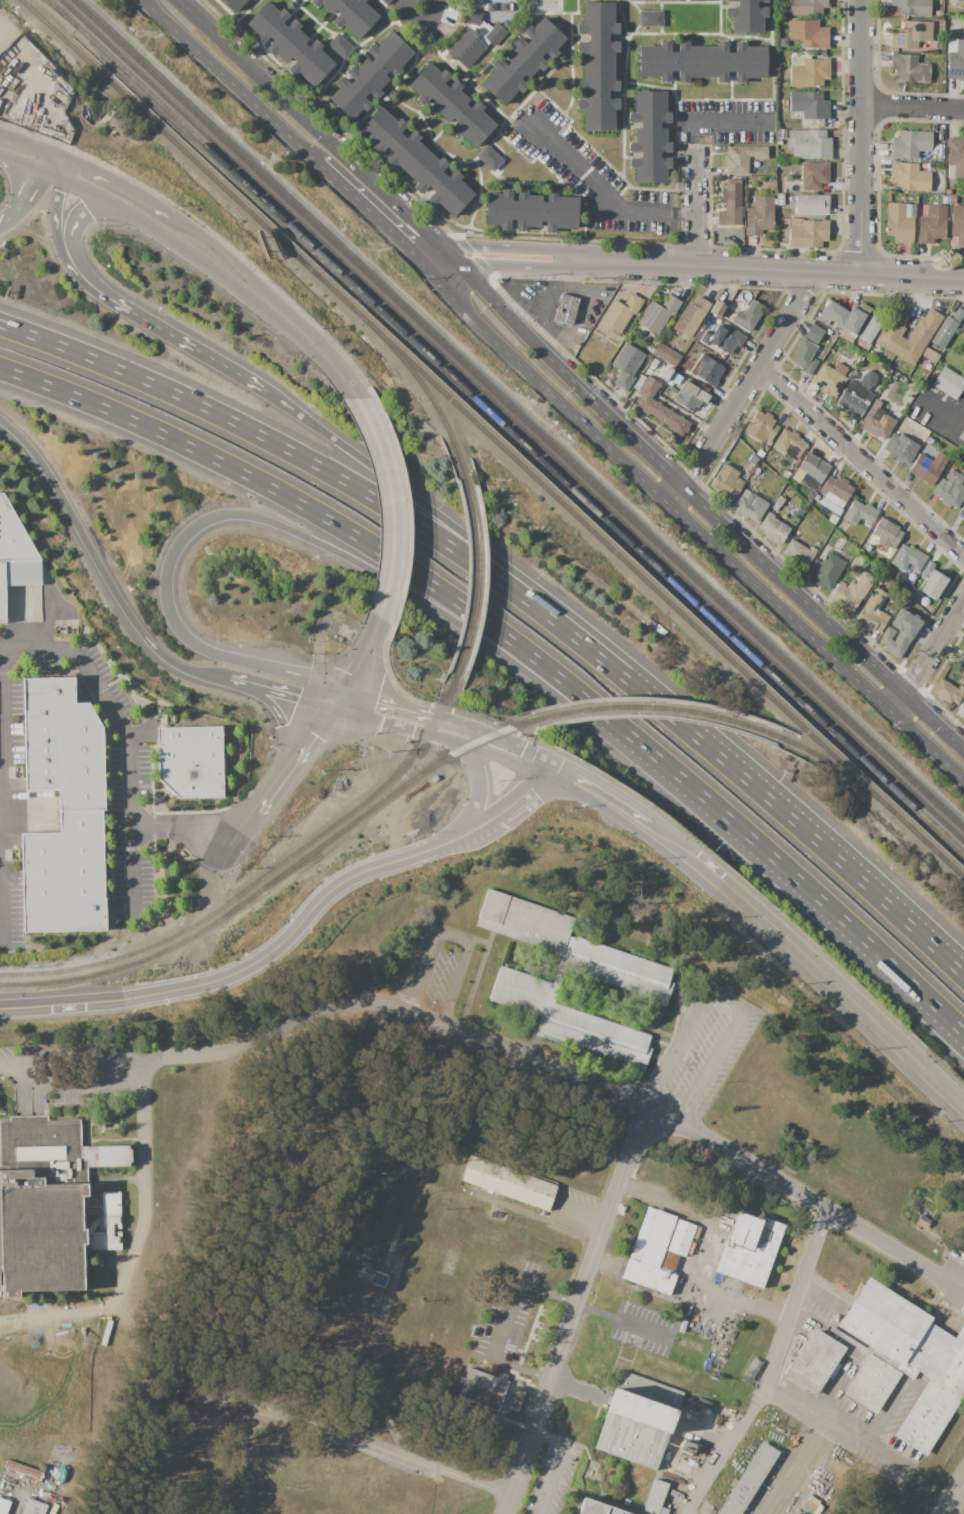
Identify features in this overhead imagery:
building: (252, 0)
building: (960, 0)
building: (234, 4)
railway: (54, 5)
railway: (56, 5)
building: (505, 6)
building: (489, 7)
building: (807, 7)
building: (912, 7)
building: (349, 14)
building: (746, 15)
building: (650, 18)
road: (420, 19)
building: (506, 23)
building: (808, 34)
building: (911, 34)
building: (473, 38)
building: (783, 42)
building: (290, 43)
building: (340, 46)
building: (803, 54)
building: (794, 55)
building: (784, 58)
building: (954, 59)
building: (523, 61)
building: (703, 61)
building: (598, 66)
building: (910, 69)
building: (810, 73)
building: (371, 76)
road: (232, 82)
building: (451, 104)
building: (784, 104)
building: (809, 104)
road: (916, 110)
road: (308, 123)
road: (724, 125)
building: (781, 134)
building: (649, 137)
road: (867, 137)
road: (31, 141)
building: (779, 142)
building: (809, 144)
building: (910, 144)
building: (934, 151)
building: (490, 158)
building: (741, 158)
building: (955, 158)
railway: (192, 160)
road: (20, 162)
building: (416, 162)
road: (39, 171)
road: (98, 174)
building: (814, 176)
building: (909, 177)
building: (779, 188)
building: (948, 191)
road: (598, 195)
building: (780, 199)
building: (953, 200)
building: (731, 202)
building: (774, 202)
building: (812, 204)
road: (696, 205)
road: (156, 208)
road: (13, 211)
building: (531, 211)
road: (369, 213)
building: (760, 215)
building: (900, 222)
building: (958, 223)
building: (931, 224)
road: (150, 231)
building: (807, 233)
road: (57, 248)
road: (503, 249)
road: (429, 254)
road: (223, 255)
road: (74, 256)
road: (447, 256)
road: (438, 264)
road: (512, 267)
road: (765, 269)
road: (549, 292)
building: (717, 308)
building: (566, 309)
road: (581, 312)
building: (620, 313)
building: (658, 314)
building: (748, 315)
building: (846, 316)
building: (691, 317)
building: (823, 320)
building: (874, 323)
building: (962, 325)
building: (946, 329)
building: (891, 338)
building: (723, 339)
road: (544, 342)
road: (310, 343)
road: (195, 349)
building: (650, 349)
building: (808, 349)
building: (667, 354)
building: (930, 355)
building: (626, 366)
building: (708, 370)
building: (887, 371)
building: (666, 374)
railway: (416, 379)
building: (674, 379)
building: (828, 381)
building: (948, 382)
road: (743, 391)
building: (857, 395)
building: (690, 397)
road: (937, 408)
building: (659, 409)
railway: (518, 414)
railway: (512, 420)
building: (878, 420)
building: (761, 427)
railway: (513, 432)
road: (952, 434)
building: (961, 436)
building: (928, 441)
building: (789, 443)
building: (900, 448)
building: (760, 454)
road: (300, 456)
road: (861, 462)
building: (927, 467)
building: (814, 468)
building: (784, 474)
building: (727, 481)
building: (950, 489)
building: (836, 491)
building: (808, 499)
building: (779, 501)
road: (390, 505)
road: (424, 506)
building: (749, 506)
road: (707, 510)
building: (962, 511)
building: (859, 513)
building: (963, 519)
building: (831, 521)
road: (686, 525)
building: (774, 528)
road: (345, 531)
building: (886, 533)
building: (13, 536)
road: (306, 537)
building: (867, 548)
building: (799, 553)
building: (908, 558)
building: (857, 561)
railway: (628, 566)
railway: (476, 567)
road: (99, 568)
building: (926, 569)
building: (825, 570)
building: (17, 578)
building: (933, 584)
building: (855, 588)
building: (911, 595)
building: (873, 613)
building: (900, 633)
road: (929, 652)
building: (960, 658)
road: (356, 664)
building: (947, 692)
road: (278, 694)
road: (384, 705)
railway: (656, 708)
building: (961, 711)
road: (459, 725)
road: (131, 738)
road: (439, 738)
building: (63, 745)
road: (521, 747)
building: (191, 761)
railway: (837, 770)
road: (278, 779)
road: (1, 790)
road: (478, 791)
railway: (391, 793)
road: (519, 794)
road: (600, 795)
road: (2, 799)
road: (772, 803)
railway: (928, 846)
road: (134, 869)
building: (64, 876)
railway: (256, 881)
road: (811, 893)
road: (450, 936)
building: (573, 947)
road: (262, 957)
railway: (138, 959)
road: (809, 967)
road: (727, 999)
road: (418, 1016)
building: (562, 1017)
road: (80, 1062)
road: (139, 1146)
building: (508, 1182)
road: (297, 1193)
building: (43, 1200)
road: (812, 1200)
building: (923, 1222)
building: (105, 1223)
building: (749, 1248)
building: (657, 1249)
building: (369, 1274)
road: (114, 1295)
road: (820, 1295)
road: (574, 1313)
road: (503, 1321)
road: (623, 1323)
building: (681, 1326)
building: (888, 1362)
building: (752, 1369)
road: (771, 1369)
building: (483, 1388)
building: (704, 1403)
road: (887, 1413)
building: (637, 1420)
road: (837, 1422)
road: (364, 1441)
building: (692, 1449)
road: (176, 1451)
road: (790, 1463)
road: (554, 1464)
building: (41, 1467)
building: (24, 1469)
building: (833, 1470)
building: (749, 1480)
building: (68, 1486)
building: (654, 1497)
road: (956, 1500)
building: (3, 1505)
building: (32, 1507)
building: (596, 1507)
building: (796, 1512)
building: (792, 1513)

